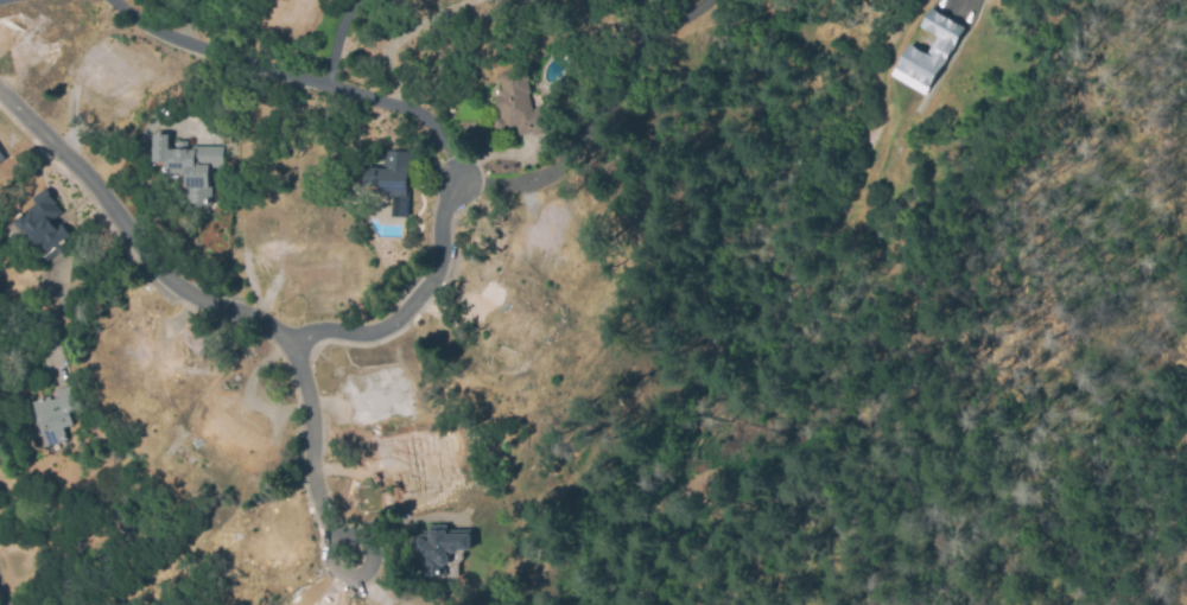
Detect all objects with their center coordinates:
road: (1, 0)
road: (673, 21)
building: (927, 50)
road: (298, 77)
building: (518, 104)
road: (580, 134)
building: (0, 158)
building: (190, 166)
building: (393, 179)
building: (42, 222)
road: (72, 297)
road: (411, 302)
road: (227, 311)
building: (56, 414)
building: (438, 552)

